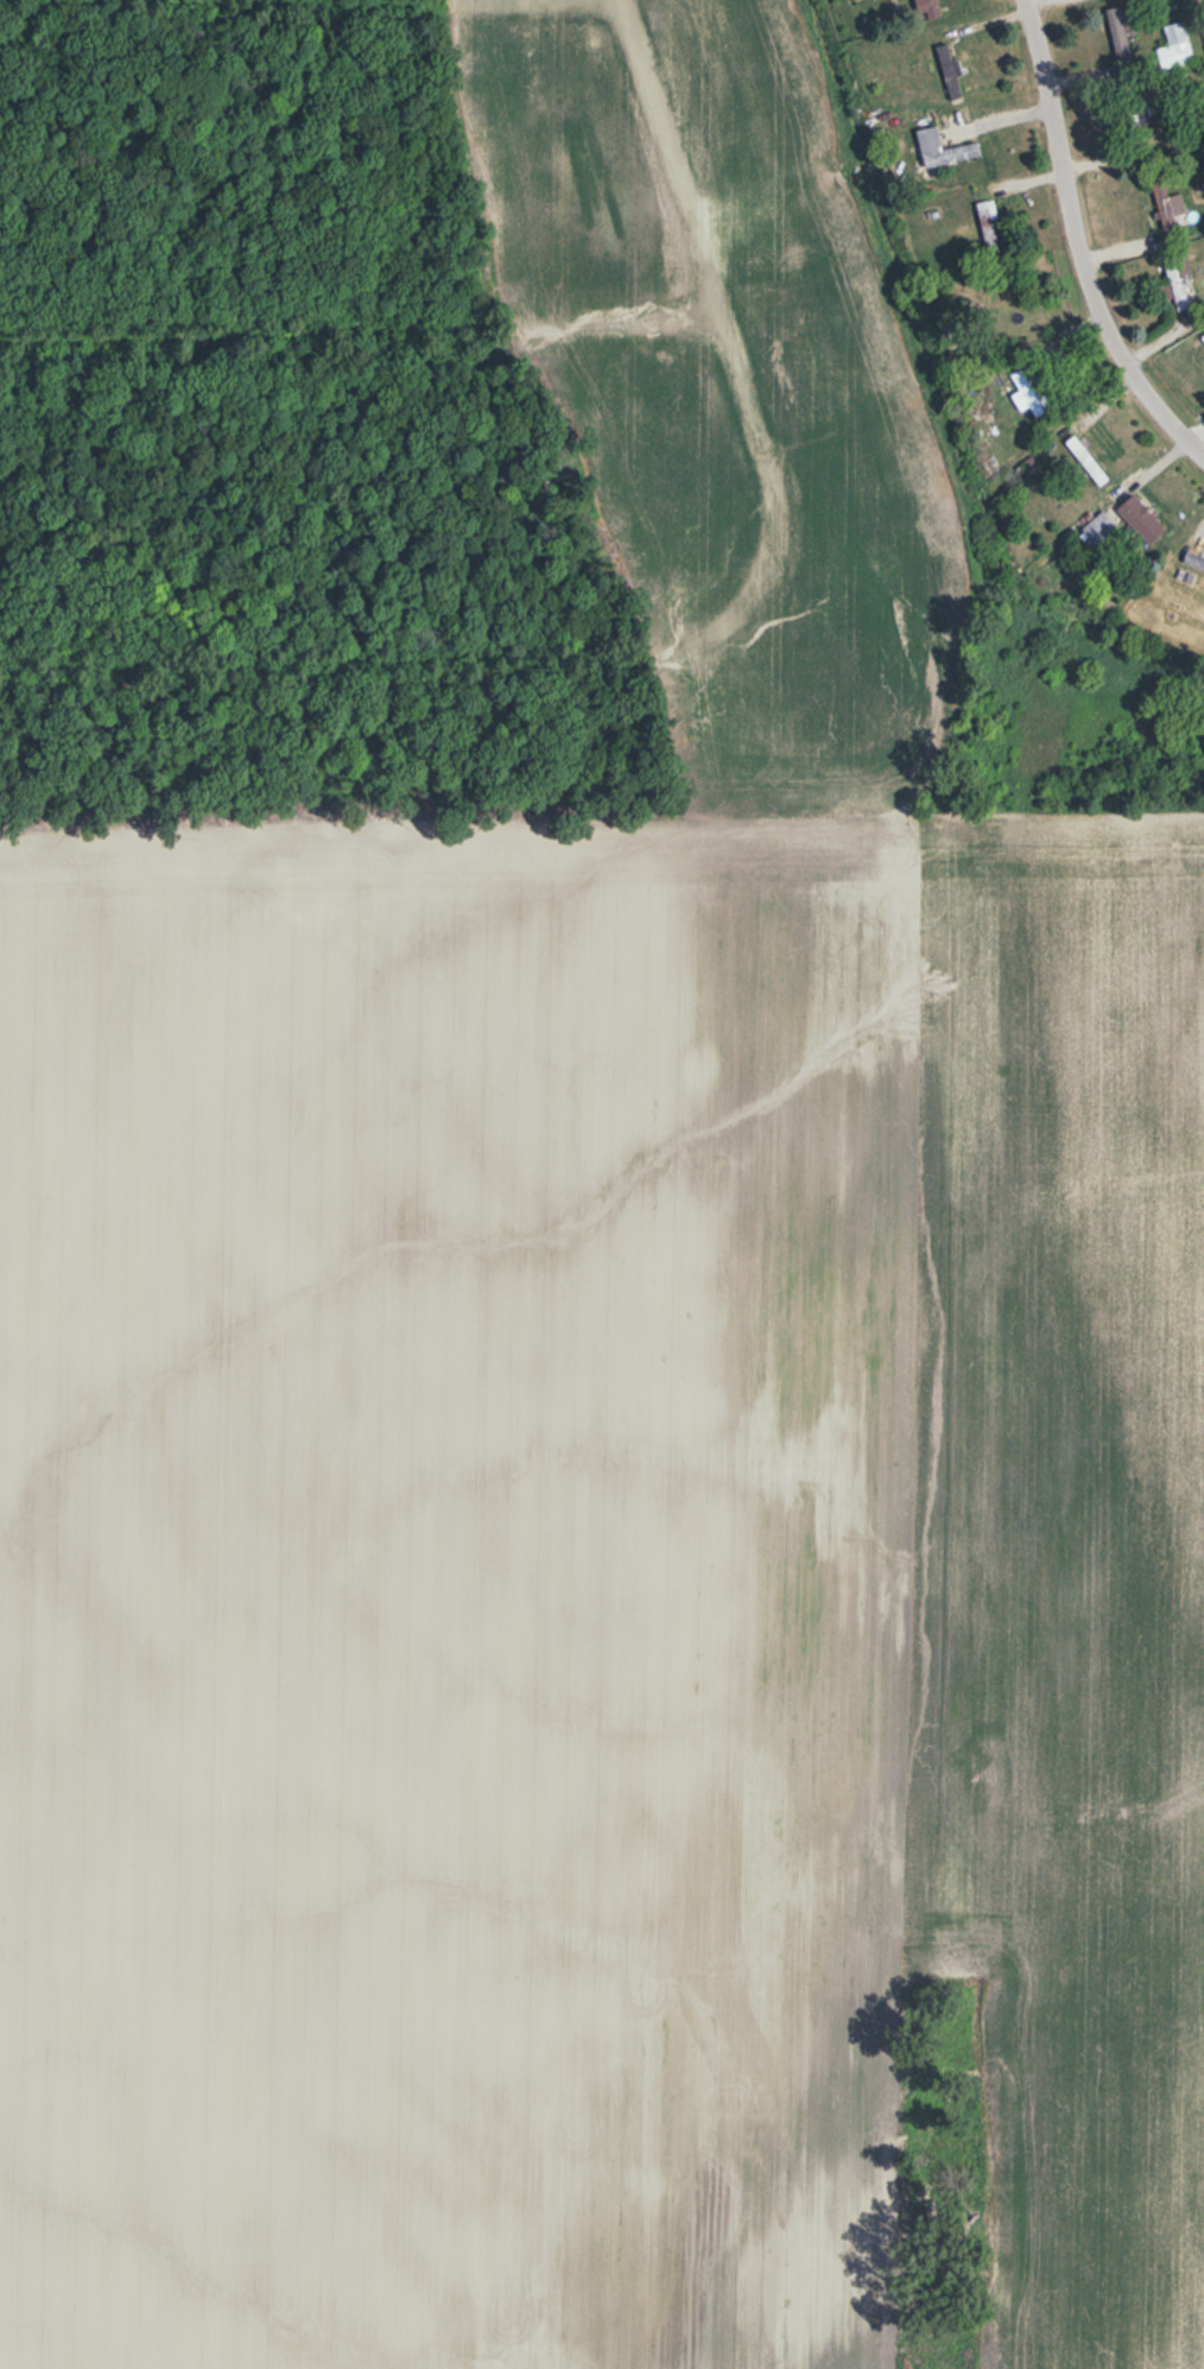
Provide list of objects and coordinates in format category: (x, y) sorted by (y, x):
building: (930, 8)
building: (1119, 34)
building: (1174, 45)
building: (948, 71)
building: (943, 148)
building: (1166, 203)
building: (987, 223)
road: (1077, 243)
building: (1179, 279)
building: (1203, 338)
building: (1032, 389)
building: (1086, 462)
building: (1140, 519)
building: (1096, 530)

